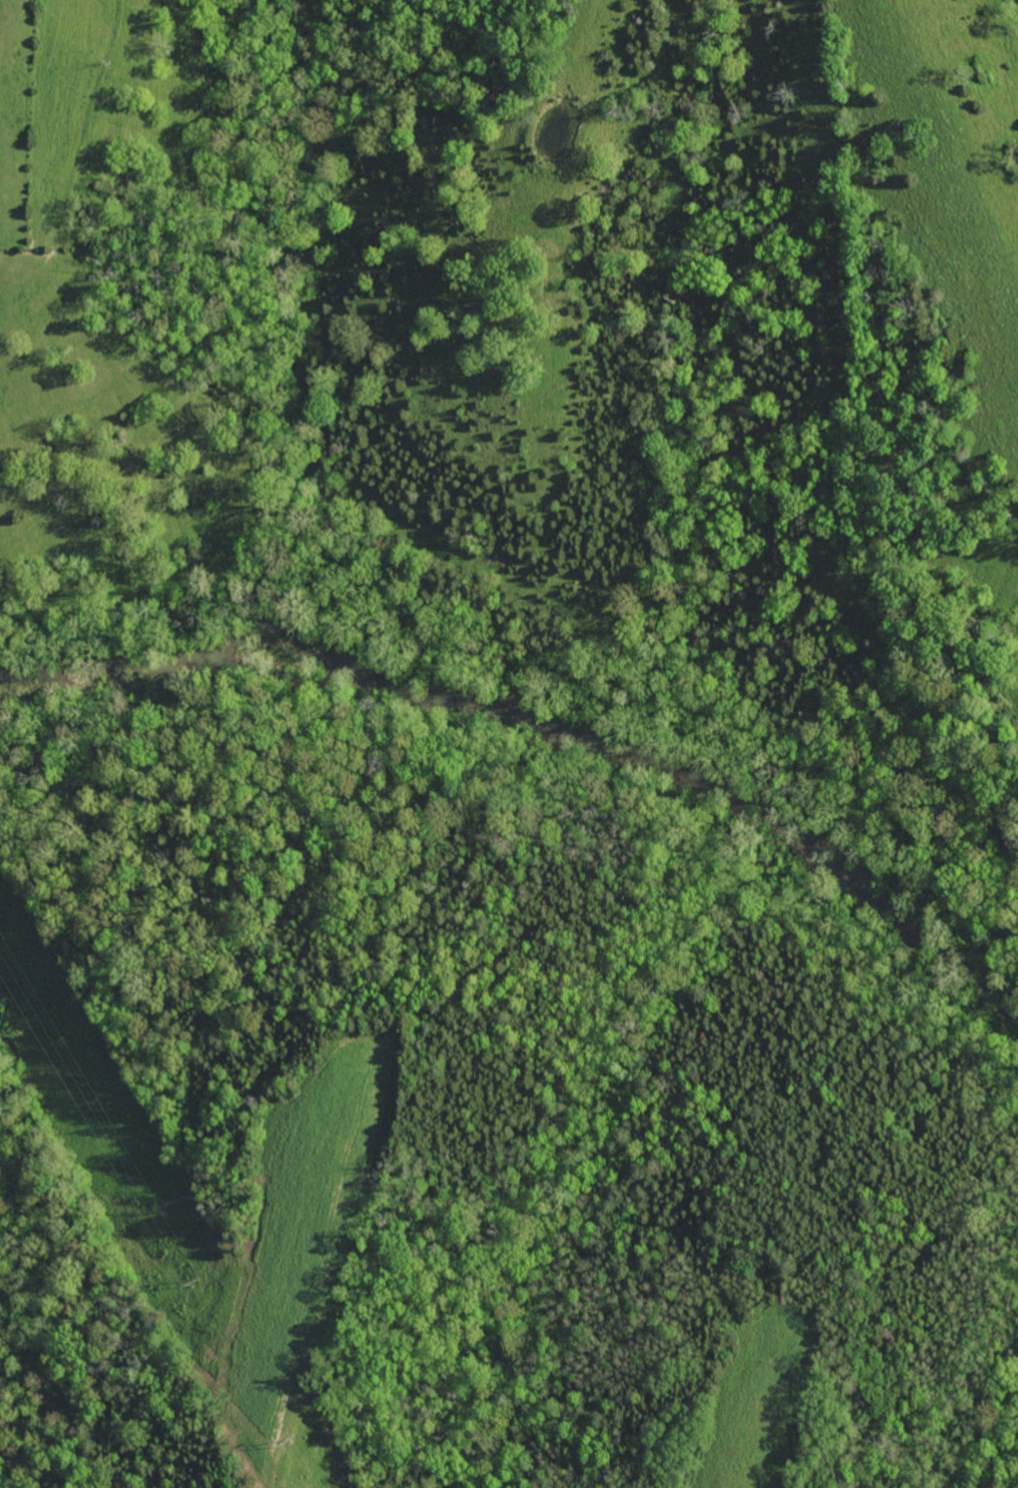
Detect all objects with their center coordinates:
power tower: (195, 1278)

